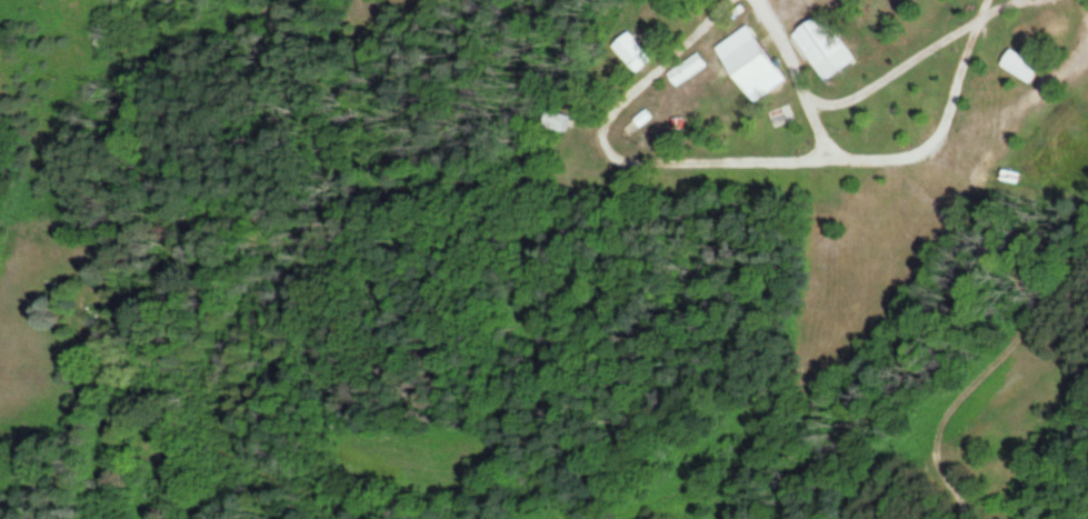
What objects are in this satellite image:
building: (821, 46)
building: (630, 51)
building: (747, 63)
building: (1018, 64)
building: (686, 69)
park: (540, 106)
building: (556, 119)

